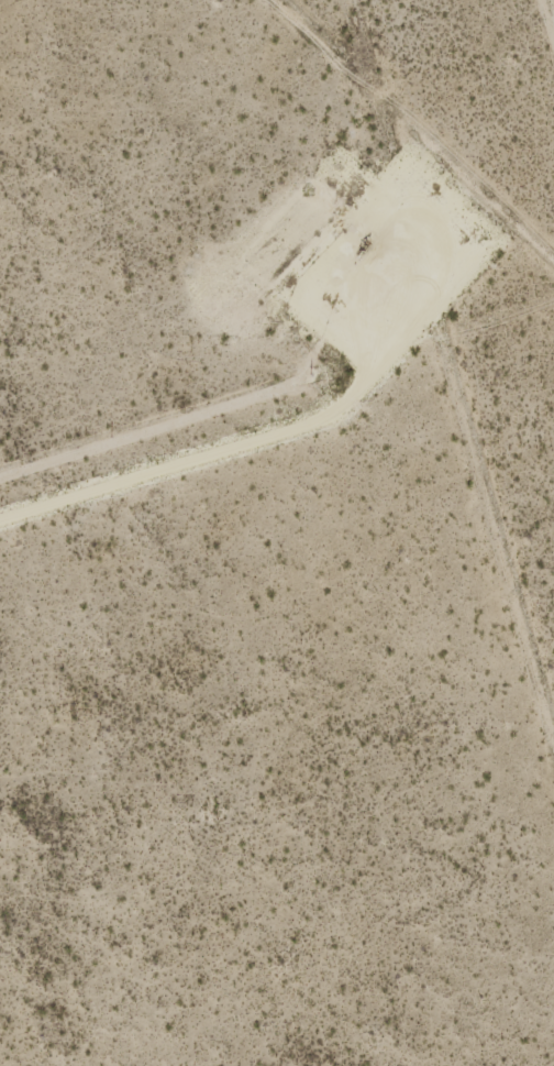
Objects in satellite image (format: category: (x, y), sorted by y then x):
petroleum well: (365, 244)
road: (237, 454)

